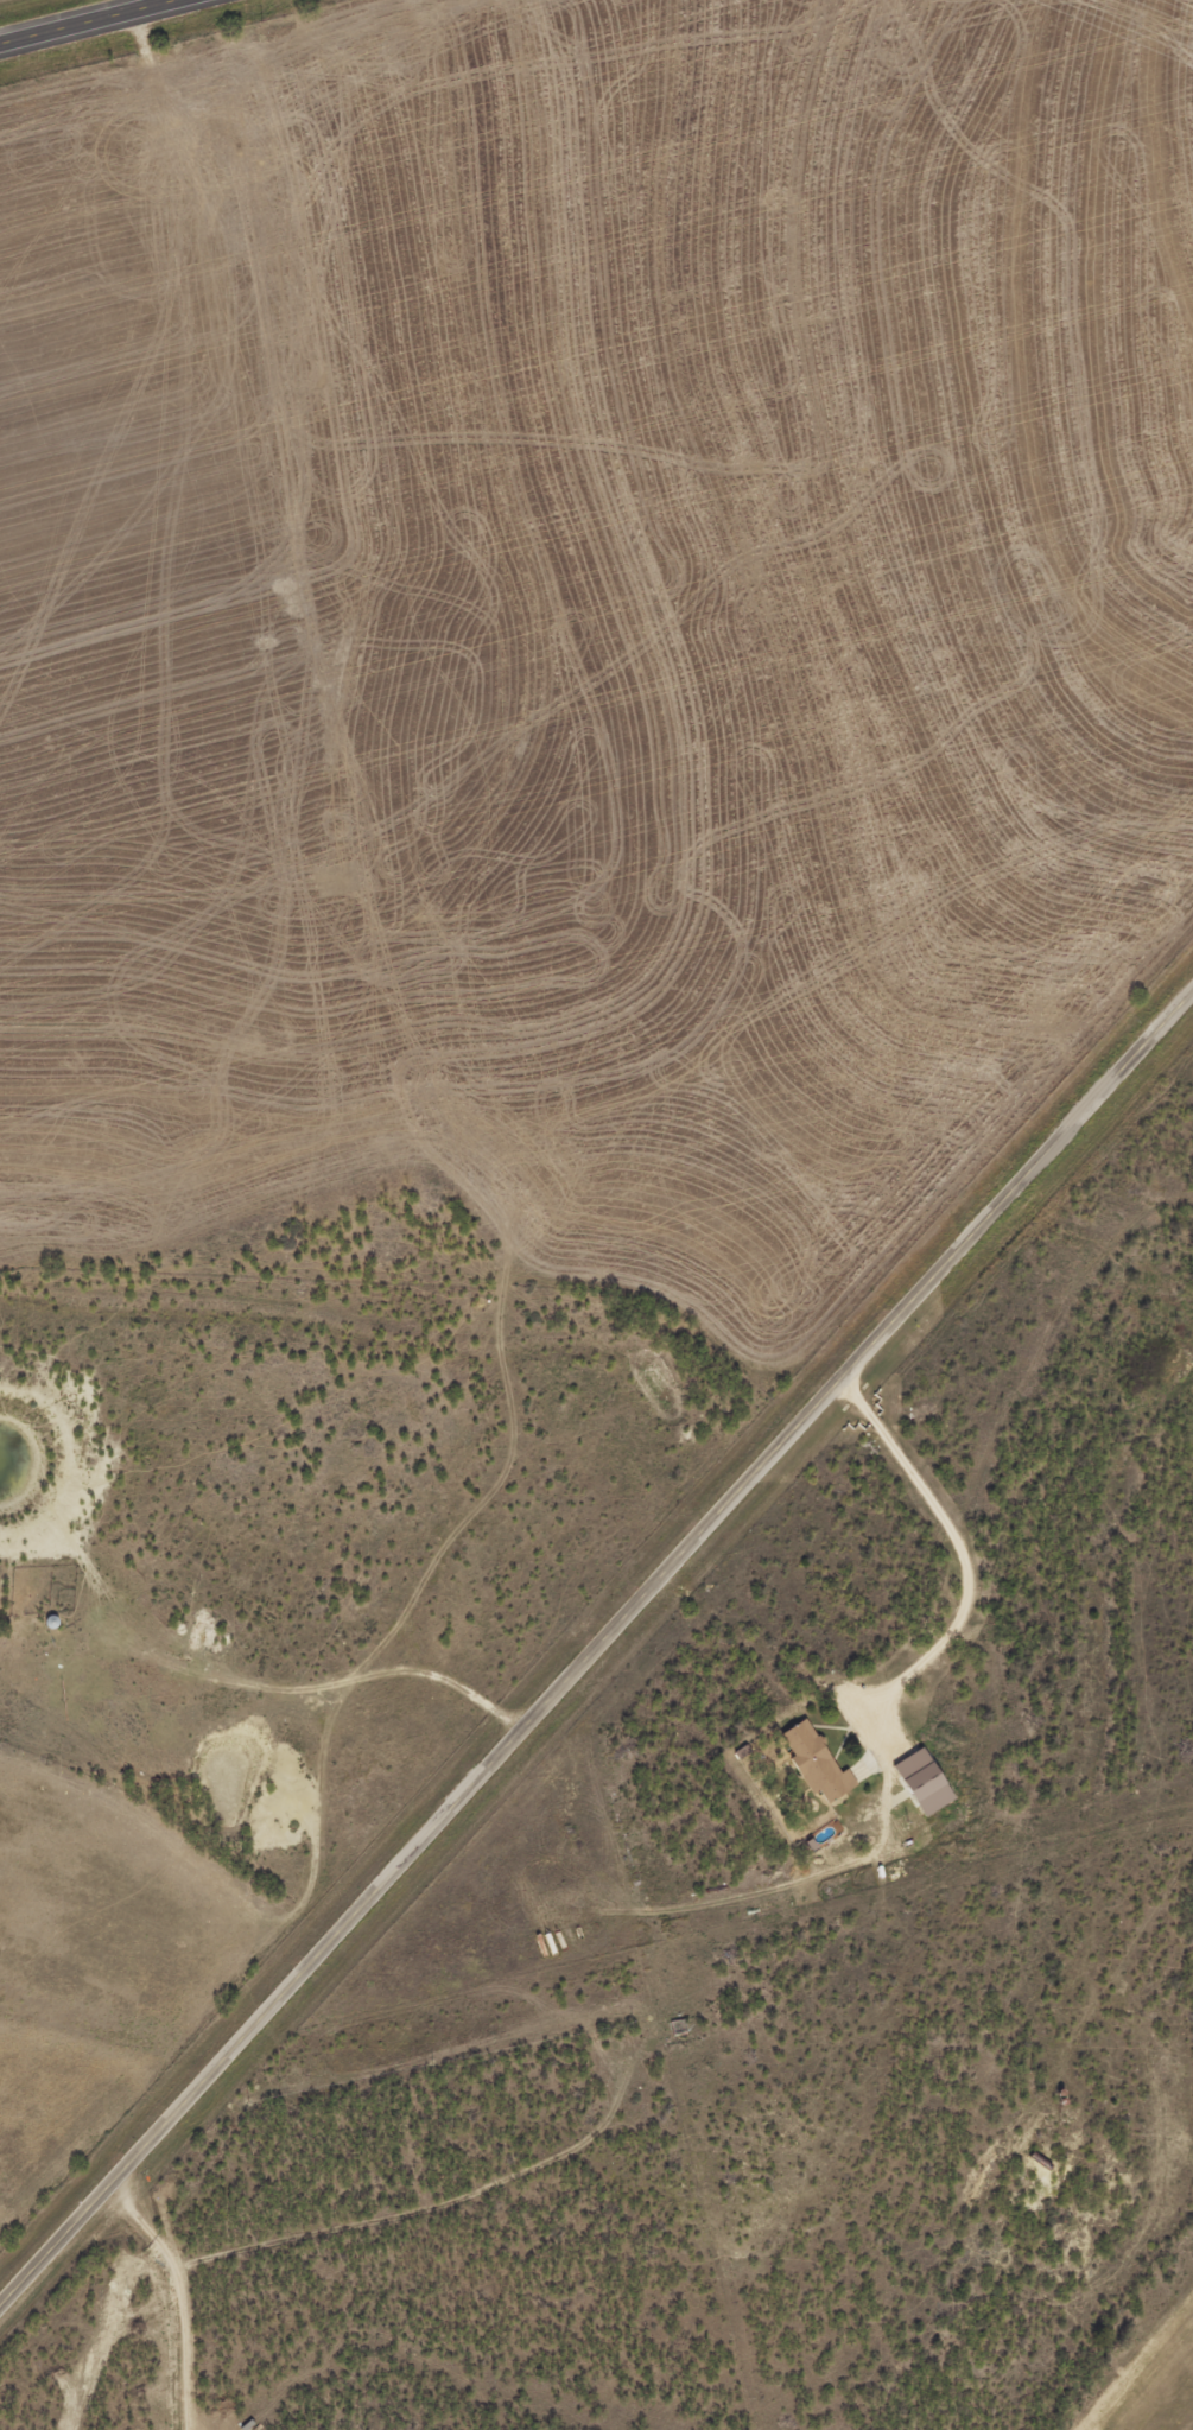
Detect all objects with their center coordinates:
road: (97, 24)
road: (953, 1546)
road: (595, 1648)
building: (820, 1763)
road: (69, 2308)

